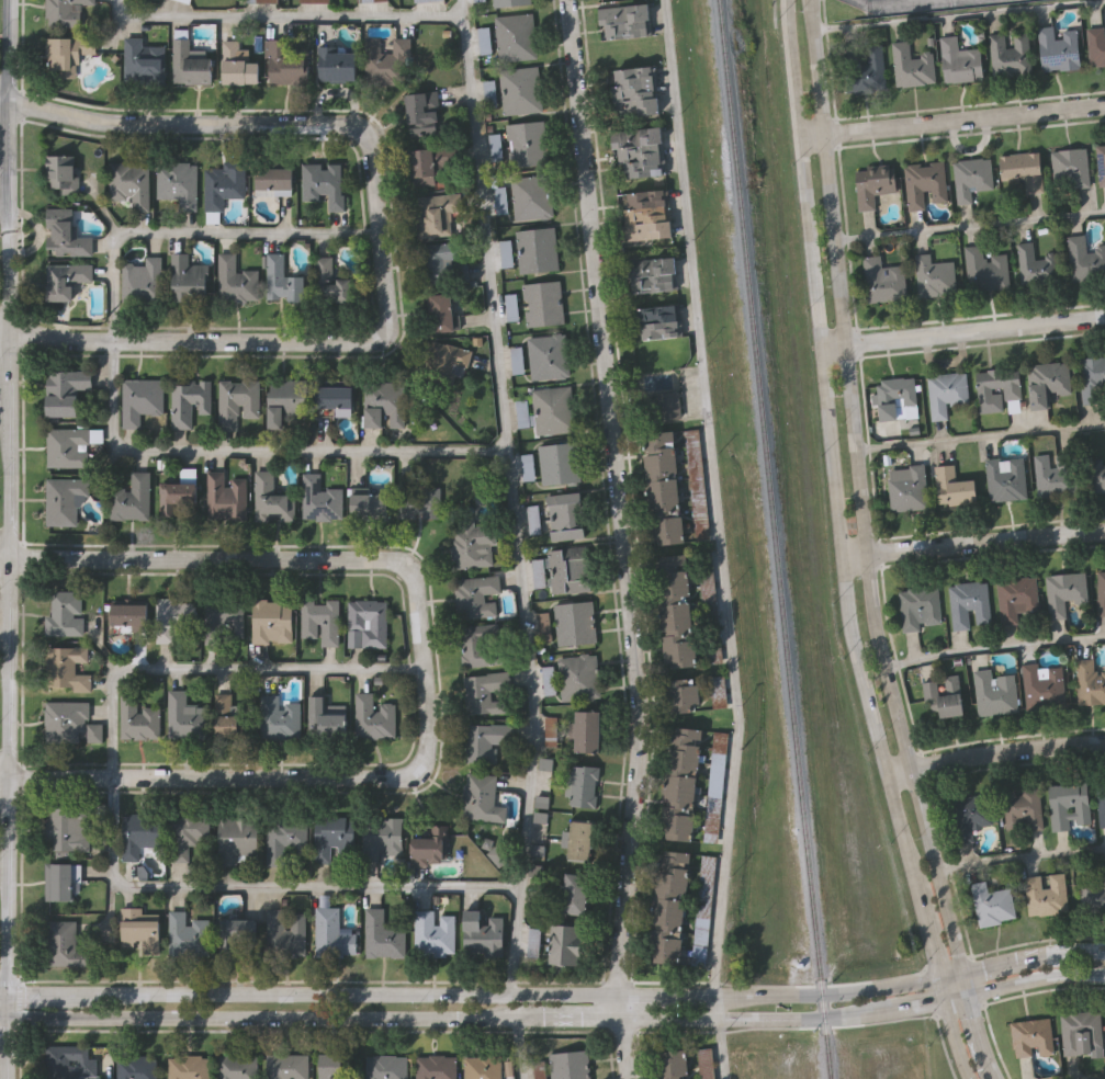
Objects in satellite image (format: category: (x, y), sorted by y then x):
building: (188, 0)
building: (264, 0)
building: (317, 0)
building: (368, 0)
building: (421, 0)
building: (510, 1)
road: (901, 2)
road: (837, 5)
building: (63, 12)
road: (958, 12)
road: (284, 16)
building: (627, 20)
building: (517, 36)
building: (1095, 44)
building: (1057, 48)
building: (65, 50)
road: (7, 52)
building: (1008, 54)
building: (140, 58)
building: (383, 60)
building: (958, 60)
building: (188, 63)
building: (284, 63)
building: (336, 64)
building: (911, 64)
building: (235, 65)
building: (869, 67)
road: (814, 68)
road: (794, 69)
building: (522, 89)
building: (635, 91)
road: (3, 102)
road: (3, 105)
building: (421, 112)
road: (962, 120)
road: (818, 136)
road: (808, 137)
building: (528, 141)
building: (642, 150)
road: (7, 154)
building: (426, 164)
building: (1100, 164)
building: (1068, 168)
building: (1019, 172)
building: (60, 173)
building: (970, 177)
building: (272, 178)
building: (128, 182)
building: (177, 182)
building: (223, 182)
building: (323, 182)
building: (923, 183)
building: (871, 184)
building: (499, 194)
building: (533, 195)
building: (435, 212)
building: (649, 214)
road: (969, 226)
road: (192, 229)
building: (65, 237)
road: (380, 241)
building: (538, 249)
building: (1084, 258)
building: (436, 262)
building: (1033, 263)
road: (5, 269)
building: (983, 269)
building: (653, 273)
building: (933, 275)
building: (64, 277)
building: (187, 279)
building: (234, 279)
building: (280, 279)
building: (140, 280)
building: (881, 280)
building: (327, 282)
building: (544, 302)
building: (440, 311)
building: (661, 320)
road: (963, 332)
road: (2, 333)
building: (550, 355)
building: (448, 360)
road: (5, 378)
building: (1091, 378)
building: (1046, 382)
building: (996, 389)
building: (63, 391)
building: (945, 393)
building: (891, 395)
building: (334, 397)
building: (283, 398)
building: (139, 400)
building: (188, 400)
building: (236, 401)
building: (383, 404)
building: (554, 409)
building: (664, 409)
road: (979, 431)
building: (66, 446)
road: (258, 450)
building: (561, 462)
building: (1053, 474)
building: (1097, 475)
building: (1004, 478)
building: (697, 484)
building: (951, 486)
building: (906, 488)
building: (663, 490)
road: (5, 491)
building: (178, 491)
building: (224, 496)
road: (510, 496)
road: (713, 496)
building: (129, 497)
building: (268, 498)
building: (318, 498)
building: (63, 499)
building: (418, 500)
building: (368, 504)
building: (566, 514)
road: (623, 538)
railway: (775, 538)
road: (973, 543)
building: (472, 546)
road: (3, 558)
building: (563, 571)
building: (1063, 591)
building: (475, 595)
building: (1014, 597)
road: (7, 602)
building: (708, 603)
building: (967, 603)
building: (918, 606)
building: (64, 611)
building: (675, 611)
building: (127, 614)
road: (852, 614)
road: (871, 614)
building: (174, 617)
building: (224, 617)
building: (271, 620)
building: (318, 621)
building: (365, 622)
building: (576, 624)
building: (480, 644)
road: (994, 656)
building: (65, 666)
road: (214, 667)
road: (424, 673)
building: (578, 678)
building: (549, 681)
building: (1089, 681)
building: (1041, 684)
building: (718, 688)
building: (484, 691)
building: (993, 692)
building: (943, 693)
building: (681, 694)
road: (7, 712)
building: (183, 716)
building: (227, 716)
building: (372, 716)
building: (278, 717)
building: (324, 717)
building: (63, 718)
building: (137, 718)
building: (551, 731)
building: (586, 731)
building: (484, 739)
road: (996, 753)
road: (3, 779)
building: (678, 783)
building: (713, 783)
building: (582, 785)
building: (480, 796)
building: (1068, 804)
building: (1021, 807)
building: (969, 814)
road: (7, 821)
building: (67, 827)
building: (138, 832)
building: (185, 832)
building: (380, 836)
building: (235, 837)
building: (283, 837)
building: (332, 838)
building: (578, 840)
building: (429, 844)
building: (499, 853)
road: (1021, 856)
building: (60, 881)
road: (266, 884)
building: (1100, 889)
building: (573, 893)
building: (1045, 893)
building: (990, 904)
building: (667, 906)
building: (701, 909)
road: (3, 928)
building: (138, 928)
building: (482, 930)
building: (284, 931)
building: (432, 931)
building: (331, 932)
building: (237, 933)
building: (187, 934)
building: (381, 934)
building: (63, 943)
building: (565, 943)
road: (1, 990)
road: (555, 991)
road: (1, 1001)
road: (553, 1016)
building: (1080, 1031)
road: (720, 1034)
building: (1030, 1036)
road: (1, 1045)
road: (519, 1047)
building: (69, 1063)
building: (669, 1064)
building: (706, 1064)
building: (572, 1065)
building: (135, 1067)
building: (188, 1067)
building: (237, 1067)
building: (286, 1067)
building: (337, 1067)
building: (385, 1067)
building: (436, 1067)
building: (482, 1067)
building: (541, 1067)
building: (685, 1078)
road: (1086, 1078)

